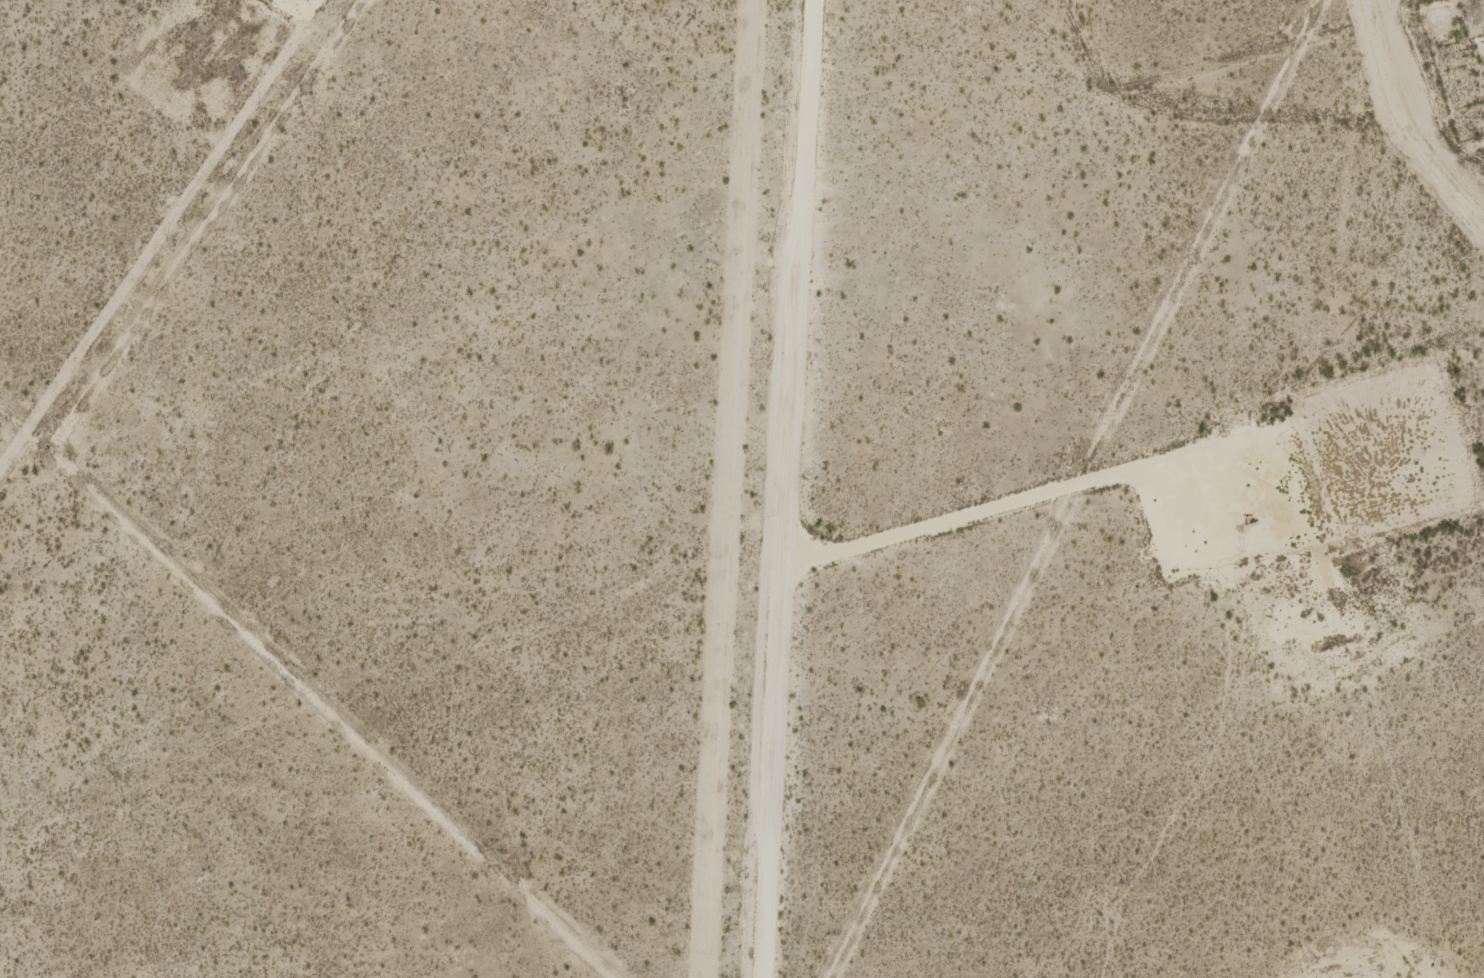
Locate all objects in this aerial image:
road: (1253, 91)
road: (805, 489)

